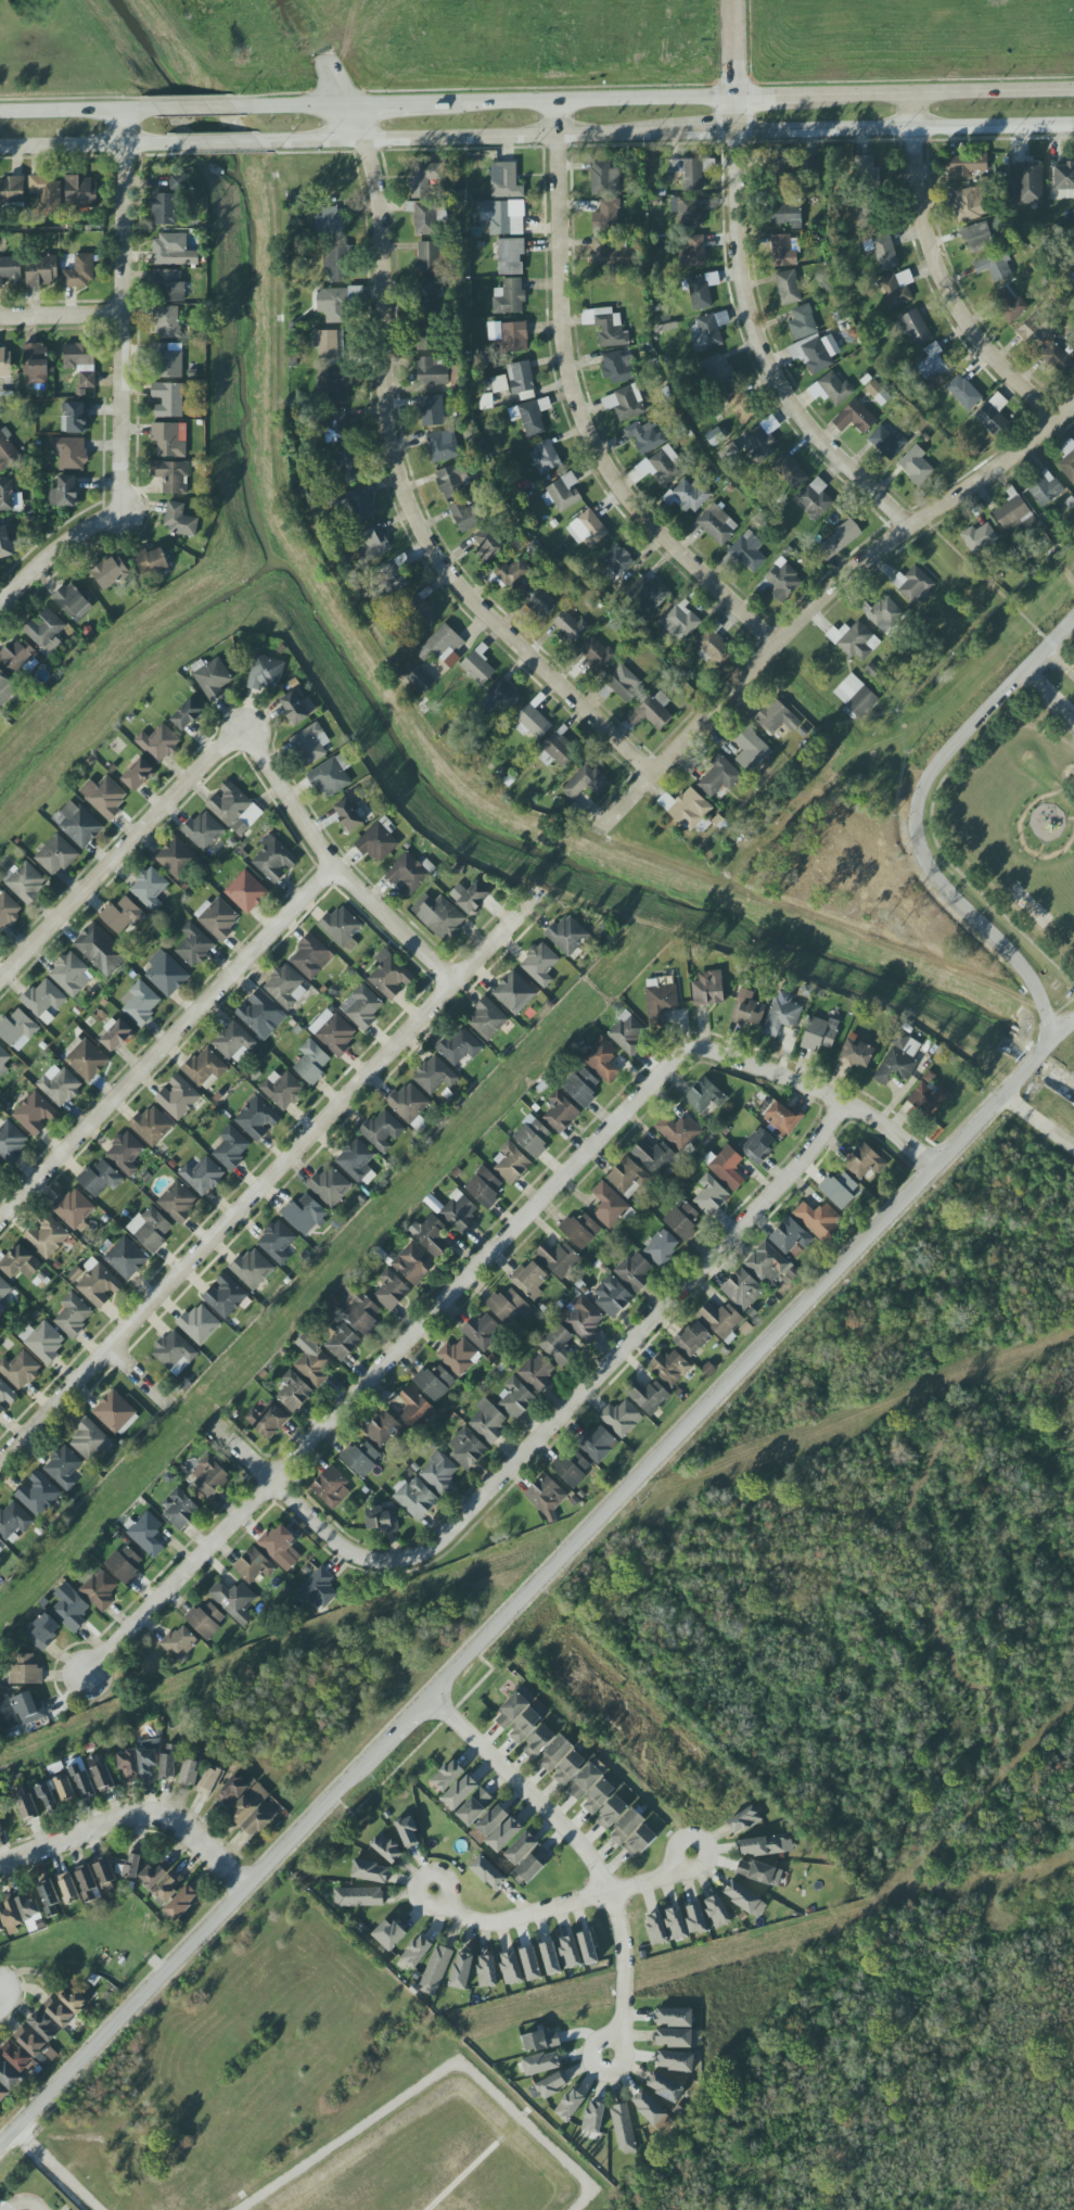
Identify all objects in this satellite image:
park: (39, 17)
road: (336, 87)
road: (941, 96)
road: (773, 99)
road: (575, 105)
road: (297, 109)
road: (380, 109)
road: (193, 110)
road: (71, 114)
road: (906, 129)
road: (705, 134)
road: (471, 138)
road: (221, 141)
road: (85, 143)
building: (967, 165)
building: (866, 169)
building: (690, 172)
building: (1063, 177)
building: (604, 178)
building: (424, 179)
building: (504, 181)
building: (1028, 183)
building: (80, 191)
building: (12, 192)
building: (47, 194)
building: (168, 202)
building: (968, 204)
building: (782, 212)
building: (687, 213)
building: (606, 215)
building: (868, 215)
building: (502, 216)
building: (423, 217)
building: (330, 223)
building: (977, 237)
building: (172, 251)
building: (784, 251)
building: (882, 251)
building: (692, 252)
building: (611, 254)
building: (510, 256)
building: (429, 257)
building: (336, 263)
building: (994, 266)
building: (10, 270)
building: (41, 270)
building: (79, 271)
road: (944, 277)
building: (167, 285)
building: (788, 287)
building: (896, 289)
road: (750, 290)
building: (699, 293)
building: (429, 295)
building: (509, 296)
building: (1008, 304)
building: (333, 305)
road: (125, 314)
road: (62, 316)
building: (167, 322)
building: (802, 322)
building: (608, 327)
building: (915, 328)
building: (705, 333)
building: (1035, 333)
building: (425, 335)
building: (509, 335)
building: (328, 344)
building: (815, 352)
building: (1058, 359)
building: (4, 360)
building: (80, 361)
building: (167, 361)
building: (35, 364)
building: (615, 367)
building: (932, 368)
building: (718, 371)
building: (431, 372)
building: (520, 378)
building: (499, 383)
building: (333, 388)
building: (835, 389)
building: (815, 391)
building: (963, 392)
building: (167, 399)
building: (485, 402)
building: (625, 403)
building: (739, 407)
building: (432, 410)
road: (583, 411)
building: (993, 414)
building: (74, 417)
building: (533, 417)
building: (855, 418)
building: (336, 427)
building: (645, 436)
building: (169, 439)
building: (759, 443)
building: (886, 443)
building: (443, 446)
building: (7, 450)
building: (71, 453)
building: (545, 457)
building: (1067, 460)
building: (347, 466)
building: (662, 467)
building: (916, 467)
building: (790, 472)
building: (170, 477)
building: (452, 480)
road: (406, 485)
building: (1045, 488)
building: (64, 492)
building: (562, 494)
building: (9, 496)
building: (688, 496)
building: (814, 498)
building: (1012, 513)
building: (466, 516)
building: (179, 519)
building: (717, 524)
building: (587, 530)
building: (842, 537)
building: (979, 537)
building: (374, 541)
building: (8, 544)
building: (488, 545)
building: (747, 551)
road: (57, 552)
building: (616, 561)
building: (151, 562)
building: (110, 572)
building: (512, 572)
building: (781, 581)
road: (987, 582)
building: (915, 585)
building: (647, 593)
building: (73, 601)
building: (538, 601)
road: (824, 604)
building: (421, 609)
building: (884, 614)
building: (680, 622)
building: (570, 626)
building: (44, 632)
building: (855, 640)
building: (443, 646)
building: (714, 647)
building: (596, 653)
building: (17, 656)
road: (1061, 660)
building: (477, 668)
building: (265, 673)
building: (213, 678)
building: (418, 678)
building: (623, 684)
building: (5, 689)
building: (855, 696)
building: (500, 697)
road: (1049, 697)
road: (1028, 707)
building: (297, 708)
building: (652, 711)
building: (187, 714)
building: (773, 719)
building: (534, 722)
road: (1045, 732)
building: (158, 744)
building: (309, 745)
building: (559, 749)
building: (751, 751)
building: (138, 775)
building: (331, 776)
building: (719, 776)
building: (585, 783)
building: (104, 796)
building: (687, 808)
building: (233, 809)
building: (348, 814)
road: (917, 822)
building: (77, 823)
building: (204, 830)
building: (378, 841)
road: (935, 841)
road: (958, 853)
building: (56, 854)
road: (125, 858)
building: (176, 858)
building: (273, 860)
road: (334, 868)
building: (409, 874)
building: (26, 882)
building: (149, 888)
building: (245, 892)
building: (470, 897)
building: (8, 910)
building: (123, 916)
building: (438, 916)
building: (218, 917)
building: (342, 927)
building: (567, 935)
building: (193, 945)
building: (100, 949)
building: (310, 957)
building: (539, 964)
building: (166, 974)
building: (71, 975)
building: (389, 975)
building: (285, 987)
building: (707, 988)
building: (514, 993)
building: (660, 999)
building: (44, 1000)
building: (140, 1002)
building: (362, 1006)
building: (747, 1009)
road: (1060, 1009)
building: (258, 1012)
building: (781, 1015)
building: (487, 1019)
road: (1062, 1027)
building: (17, 1029)
building: (332, 1031)
building: (627, 1031)
building: (818, 1033)
building: (115, 1034)
building: (233, 1042)
road: (167, 1046)
building: (459, 1046)
building: (855, 1053)
building: (85, 1058)
building: (601, 1058)
building: (4, 1059)
building: (898, 1059)
building: (311, 1063)
building: (204, 1067)
building: (434, 1076)
building: (59, 1085)
building: (580, 1087)
building: (282, 1090)
building: (704, 1095)
building: (177, 1097)
building: (926, 1097)
building: (409, 1106)
building: (560, 1113)
building: (35, 1114)
building: (256, 1119)
building: (782, 1119)
road: (1038, 1123)
building: (151, 1126)
building: (382, 1131)
building: (678, 1131)
building: (532, 1136)
building: (11, 1141)
building: (758, 1145)
building: (231, 1147)
building: (125, 1153)
building: (654, 1157)
building: (357, 1161)
building: (864, 1161)
building: (511, 1163)
building: (0, 1167)
building: (727, 1167)
building: (202, 1176)
building: (100, 1178)
building: (627, 1178)
road: (271, 1179)
building: (330, 1185)
building: (483, 1187)
building: (839, 1189)
building: (711, 1195)
building: (177, 1202)
building: (610, 1206)
building: (459, 1214)
building: (304, 1215)
building: (818, 1220)
building: (683, 1221)
building: (150, 1229)
building: (579, 1230)
building: (46, 1236)
building: (431, 1236)
building: (790, 1236)
building: (277, 1242)
building: (661, 1247)
building: (125, 1258)
building: (558, 1258)
building: (21, 1263)
building: (412, 1263)
road: (483, 1263)
building: (766, 1263)
building: (252, 1268)
building: (634, 1272)
building: (529, 1280)
building: (98, 1284)
building: (742, 1290)
building: (391, 1291)
building: (3, 1293)
building: (225, 1296)
building: (612, 1296)
building: (507, 1307)
building: (359, 1309)
building: (73, 1316)
building: (584, 1320)
building: (720, 1320)
building: (199, 1324)
building: (482, 1330)
road: (627, 1337)
building: (692, 1339)
building: (42, 1341)
building: (342, 1341)
building: (557, 1344)
building: (175, 1352)
building: (459, 1357)
building: (312, 1361)
building: (669, 1368)
building: (20, 1370)
building: (537, 1372)
road: (142, 1376)
building: (434, 1382)
building: (294, 1392)
building: (5, 1396)
building: (648, 1396)
building: (515, 1399)
building: (414, 1408)
building: (115, 1413)
building: (621, 1418)
building: (268, 1419)
building: (488, 1422)
building: (383, 1430)
building: (89, 1440)
building: (597, 1444)
building: (466, 1449)
road: (245, 1451)
building: (360, 1458)
building: (63, 1468)
building: (571, 1468)
building: (439, 1472)
building: (209, 1476)
building: (331, 1488)
building: (37, 1494)
building: (545, 1495)
building: (414, 1498)
building: (179, 1508)
building: (13, 1520)
building: (381, 1520)
building: (146, 1534)
road: (331, 1534)
building: (280, 1547)
building: (124, 1565)
building: (253, 1565)
building: (319, 1588)
building: (99, 1590)
road: (527, 1592)
building: (233, 1601)
building: (71, 1611)
building: (205, 1620)
building: (42, 1630)
building: (179, 1642)
building: (25, 1669)
building: (28, 1709)
building: (511, 1710)
building: (524, 1725)
building: (538, 1741)
building: (555, 1753)
building: (148, 1758)
building: (168, 1762)
building: (128, 1766)
building: (568, 1768)
building: (189, 1771)
building: (448, 1775)
building: (103, 1777)
building: (209, 1780)
building: (585, 1781)
building: (85, 1784)
building: (64, 1789)
building: (231, 1791)
building: (460, 1792)
building: (598, 1795)
building: (47, 1798)
building: (26, 1803)
building: (474, 1806)
building: (253, 1812)
building: (611, 1813)
road: (132, 1820)
building: (491, 1820)
building: (744, 1820)
building: (1, 1828)
building: (408, 1832)
building: (634, 1833)
building: (476, 1834)
building: (503, 1834)
building: (762, 1845)
building: (386, 1847)
building: (521, 1849)
road: (584, 1849)
building: (533, 1863)
building: (132, 1864)
building: (104, 1870)
building: (370, 1871)
building: (487, 1872)
building: (758, 1872)
building: (86, 1878)
building: (162, 1881)
building: (67, 1887)
building: (358, 1896)
building: (49, 1897)
building: (744, 1898)
building: (181, 1902)
road: (562, 1905)
building: (29, 1911)
building: (717, 1911)
building: (695, 1917)
building: (675, 1923)
building: (0, 1927)
building: (655, 1929)
building: (388, 1934)
building: (587, 1947)
building: (417, 1951)
building: (568, 1952)
building: (550, 1958)
building: (529, 1964)
building: (510, 1968)
building: (435, 1970)
building: (461, 1970)
building: (486, 1971)
building: (74, 2001)
building: (57, 2011)
building: (674, 2017)
building: (43, 2025)
building: (673, 2037)
building: (540, 2040)
building: (30, 2042)
building: (21, 2060)
building: (675, 2060)
building: (540, 2063)
building: (9, 2075)
road: (434, 2081)
building: (547, 2086)
building: (664, 2087)
building: (2, 2094)
building: (570, 2105)
building: (649, 2109)
building: (593, 2117)
road: (113, 2130)
building: (624, 2130)
road: (48, 2173)
road: (25, 2201)

